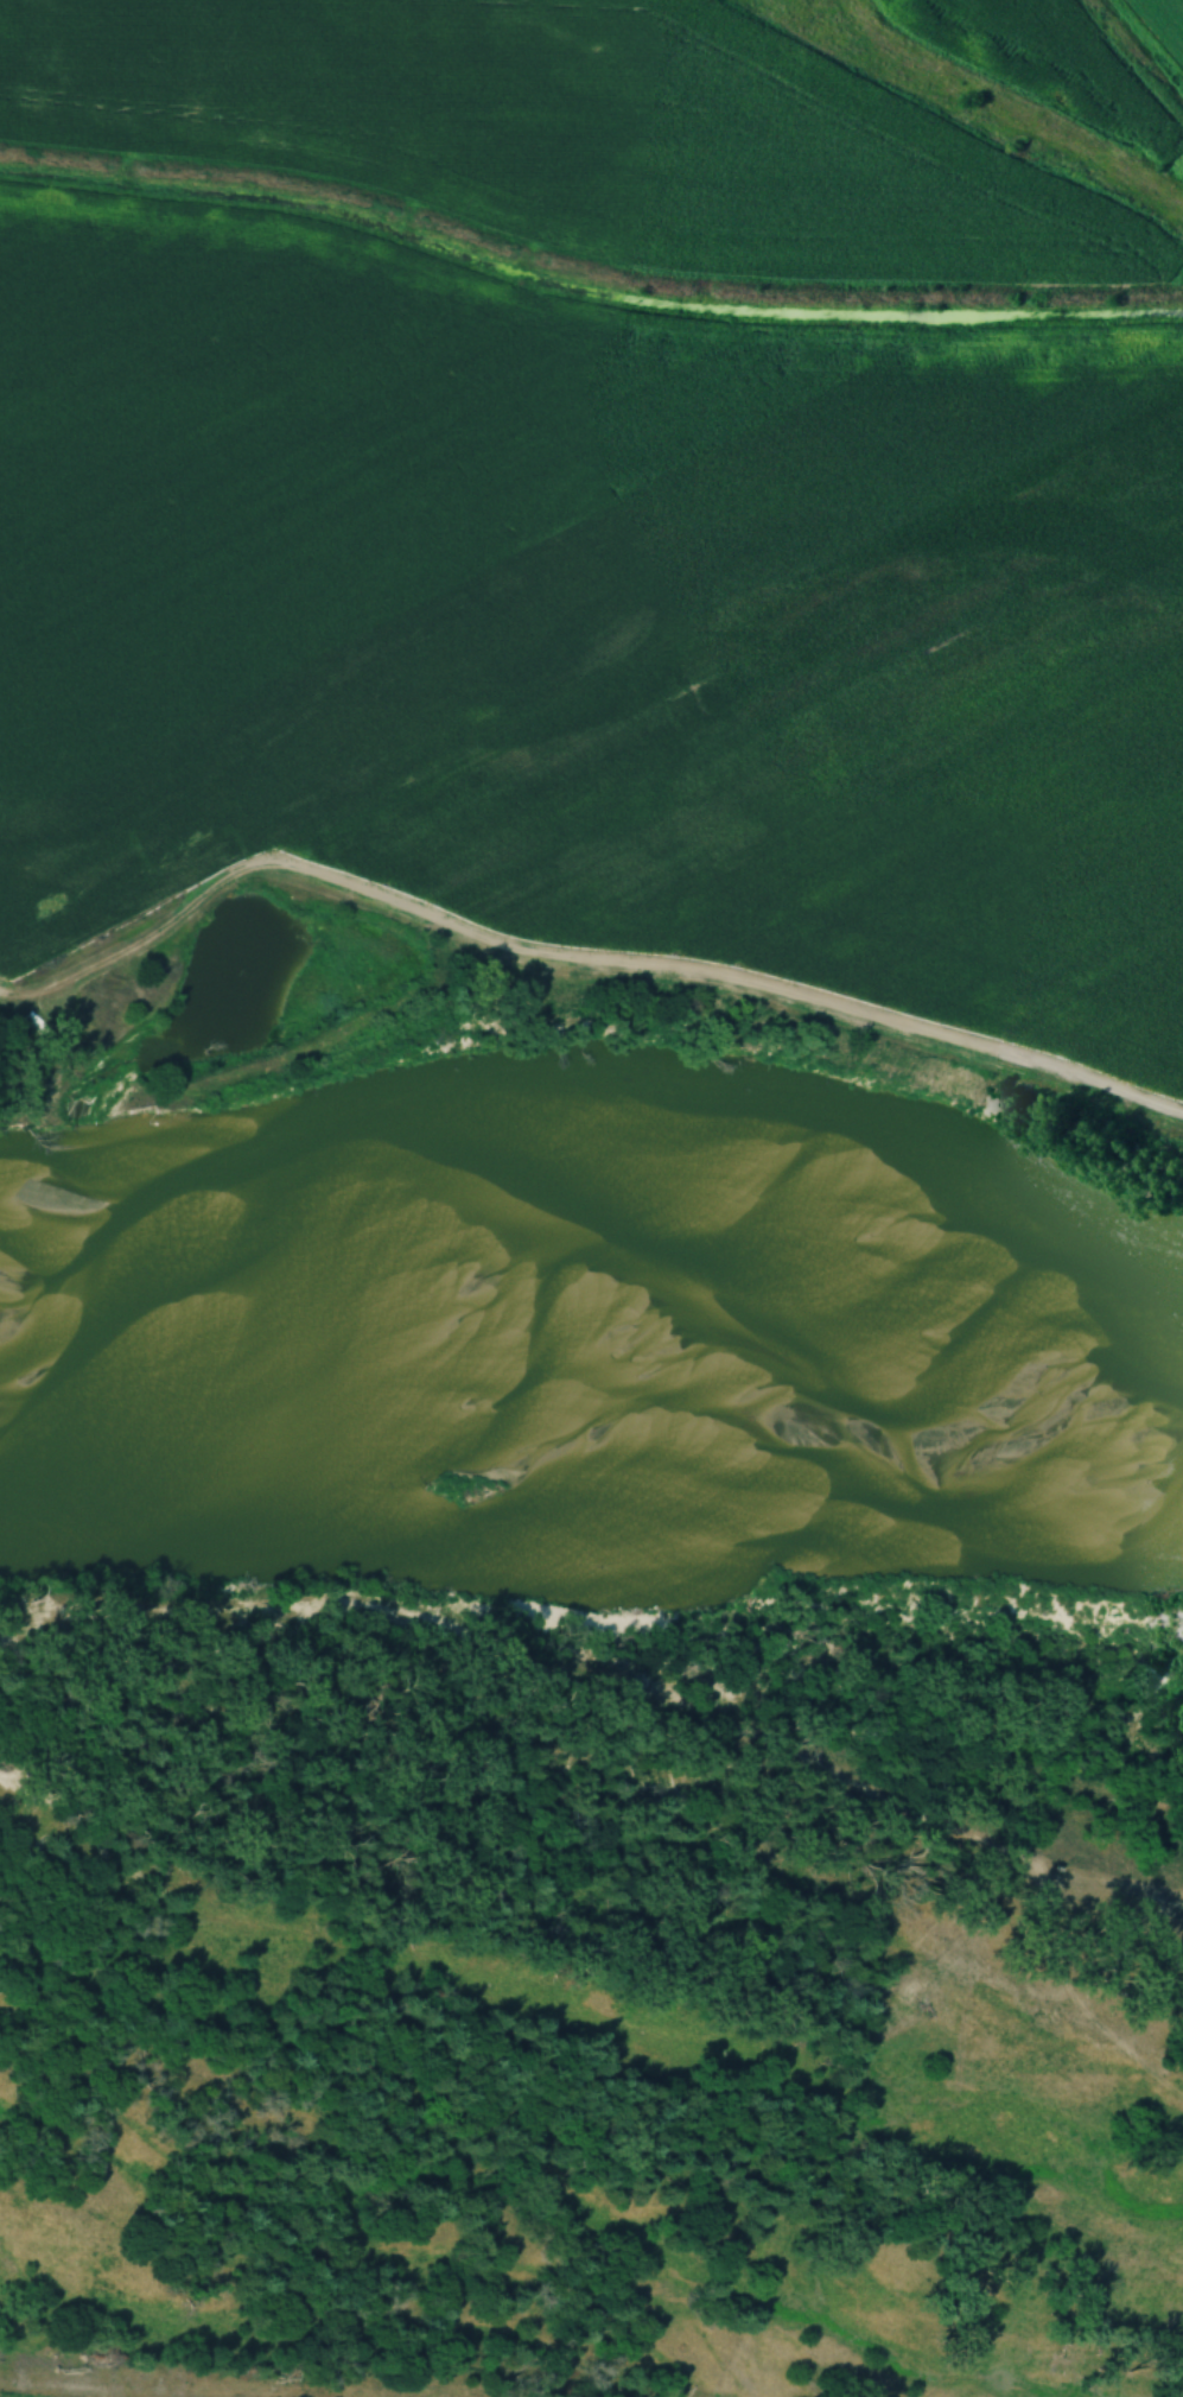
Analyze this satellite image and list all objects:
river: (589, 1224)

